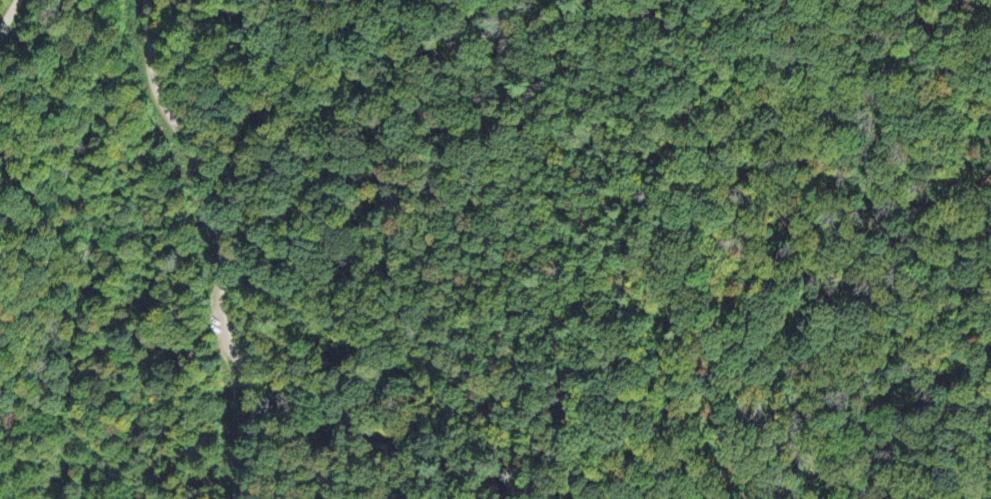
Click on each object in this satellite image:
road: (8, 15)
road: (400, 242)
road: (219, 245)

